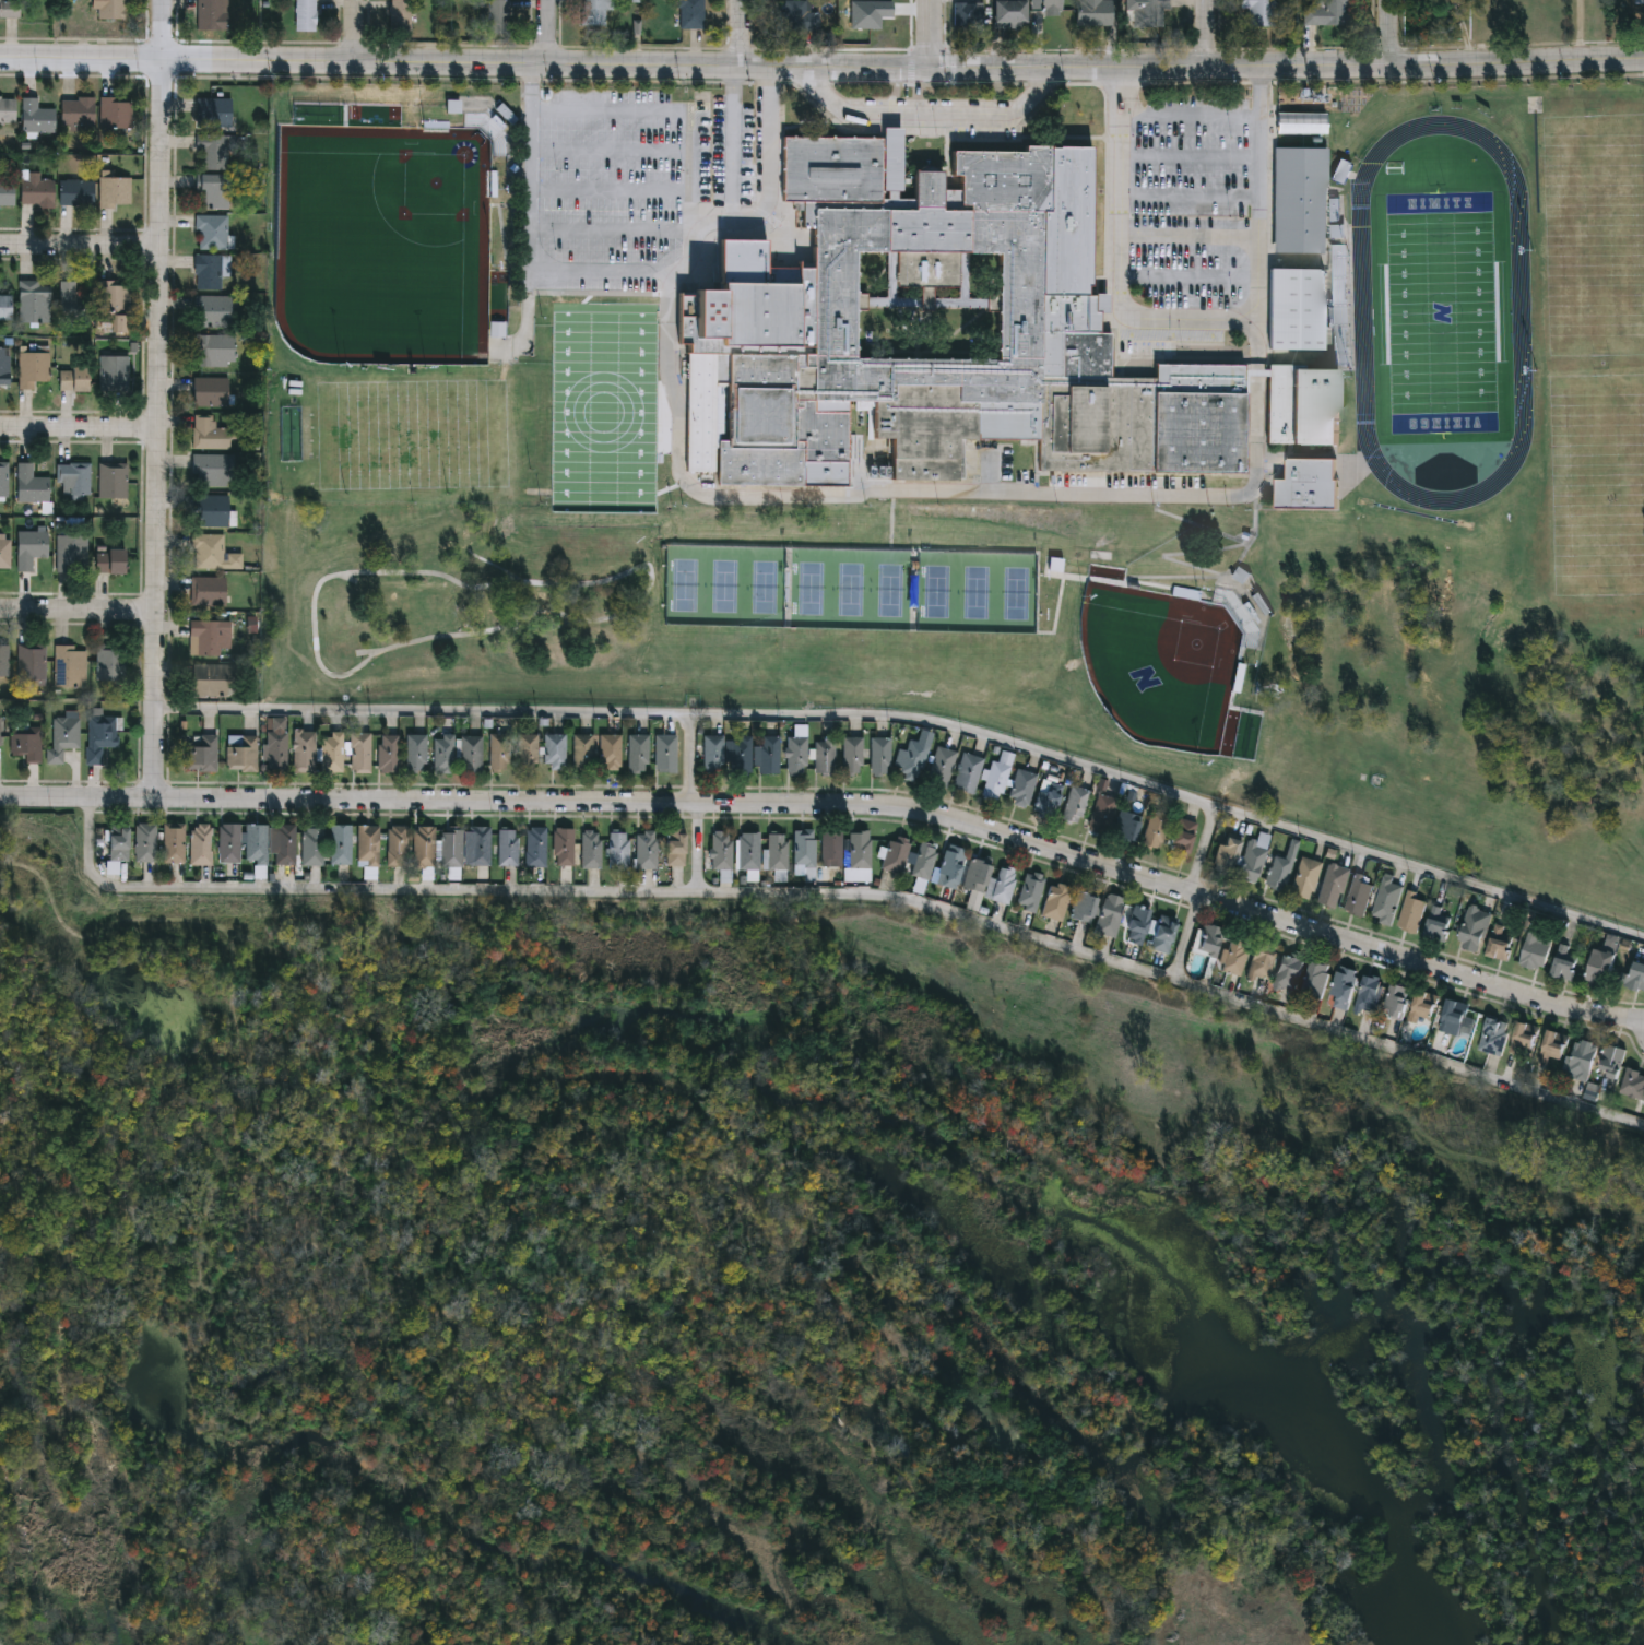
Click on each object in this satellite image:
building: (1639, 2)
building: (861, 3)
building: (1052, 8)
building: (111, 9)
building: (5, 10)
building: (595, 12)
building: (1089, 12)
building: (1145, 13)
building: (1257, 13)
building: (1328, 13)
building: (693, 14)
building: (1009, 14)
building: (212, 15)
building: (306, 15)
building: (401, 16)
building: (498, 16)
building: (796, 16)
building: (968, 16)
road: (164, 29)
road: (358, 31)
road: (551, 32)
road: (1463, 32)
road: (741, 33)
road: (1208, 33)
road: (1389, 33)
road: (932, 34)
road: (465, 62)
road: (1347, 66)
road: (991, 68)
road: (1123, 83)
road: (1259, 83)
road: (1034, 94)
building: (7, 109)
building: (213, 111)
building: (76, 113)
building: (115, 113)
road: (1191, 113)
road: (898, 114)
building: (508, 116)
building: (35, 117)
building: (1302, 121)
building: (1242, 122)
road: (733, 144)
building: (214, 150)
building: (1343, 171)
building: (36, 190)
building: (214, 190)
building: (115, 191)
building: (7, 192)
building: (76, 192)
building: (1300, 198)
building: (212, 232)
road: (530, 235)
road: (1191, 236)
road: (82, 242)
park: (386, 242)
building: (209, 271)
building: (576, 279)
building: (611, 279)
building: (644, 280)
building: (34, 300)
building: (73, 301)
building: (767, 303)
building: (114, 305)
building: (5, 306)
building: (1297, 307)
building: (213, 309)
building: (558, 310)
building: (589, 310)
building: (618, 311)
building: (648, 311)
park: (1441, 312)
track: (1362, 315)
road: (1187, 323)
building: (499, 331)
road: (1258, 345)
building: (216, 350)
building: (4, 362)
building: (34, 369)
road: (1258, 372)
building: (116, 374)
building: (79, 378)
building: (211, 391)
road: (161, 428)
road: (80, 429)
building: (211, 434)
building: (212, 470)
building: (4, 478)
building: (74, 478)
building: (113, 480)
building: (1305, 482)
building: (31, 484)
road: (785, 498)
building: (211, 510)
building: (31, 547)
building: (71, 553)
building: (213, 553)
building: (5, 554)
building: (110, 560)
park: (726, 587)
park: (852, 589)
building: (209, 591)
park: (978, 591)
road: (79, 608)
building: (208, 636)
building: (4, 660)
building: (31, 662)
building: (110, 662)
park: (1166, 664)
building: (69, 666)
building: (214, 681)
road: (916, 720)
building: (0, 732)
building: (100, 734)
building: (62, 738)
building: (26, 744)
building: (276, 747)
building: (304, 752)
building: (527, 752)
building: (555, 752)
building: (241, 753)
building: (331, 753)
building: (359, 753)
building: (416, 753)
building: (443, 753)
building: (499, 753)
building: (582, 753)
building: (610, 753)
building: (201, 754)
building: (638, 754)
building: (666, 754)
building: (388, 755)
building: (471, 755)
building: (713, 755)
building: (769, 755)
building: (796, 755)
building: (852, 755)
building: (880, 755)
building: (741, 756)
building: (825, 756)
building: (914, 758)
road: (691, 761)
building: (942, 766)
building: (969, 773)
building: (995, 780)
building: (1022, 788)
building: (1049, 796)
building: (1076, 803)
road: (837, 805)
building: (1102, 813)
building: (1126, 826)
building: (1155, 830)
building: (1182, 838)
building: (145, 842)
building: (228, 842)
building: (118, 843)
building: (173, 843)
building: (201, 843)
building: (257, 843)
building: (284, 844)
building: (340, 844)
building: (312, 845)
building: (367, 845)
building: (397, 845)
building: (477, 845)
building: (424, 847)
building: (450, 847)
building: (536, 847)
building: (564, 847)
building: (508, 848)
building: (675, 848)
building: (804, 848)
building: (590, 849)
building: (831, 849)
building: (860, 849)
building: (619, 850)
building: (646, 850)
road: (699, 850)
building: (721, 850)
building: (748, 851)
building: (778, 851)
road: (1203, 851)
building: (896, 853)
building: (1226, 853)
building: (923, 860)
building: (1252, 862)
building: (950, 865)
building: (1280, 869)
building: (975, 876)
building: (1305, 877)
building: (1002, 885)
building: (1332, 886)
building: (1031, 890)
building: (1358, 893)
road: (844, 895)
building: (1386, 899)
building: (1056, 900)
building: (1083, 907)
building: (1410, 911)
building: (1110, 914)
building: (1436, 922)
building: (1137, 924)
building: (1474, 928)
building: (1162, 934)
building: (1208, 937)
road: (1186, 938)
building: (1498, 943)
building: (1534, 951)
building: (1233, 955)
building: (1262, 959)
building: (1564, 961)
building: (1599, 966)
building: (1288, 971)
building: (1636, 974)
building: (1315, 979)
building: (1343, 985)
building: (1368, 993)
building: (1395, 998)
building: (1421, 1004)
building: (1451, 1016)
building: (1493, 1035)
building: (1523, 1038)
building: (1552, 1044)
building: (1582, 1058)
building: (1610, 1062)
building: (1633, 1082)
building: (1179, 1090)
building: (1201, 1590)
building: (260, 1643)

